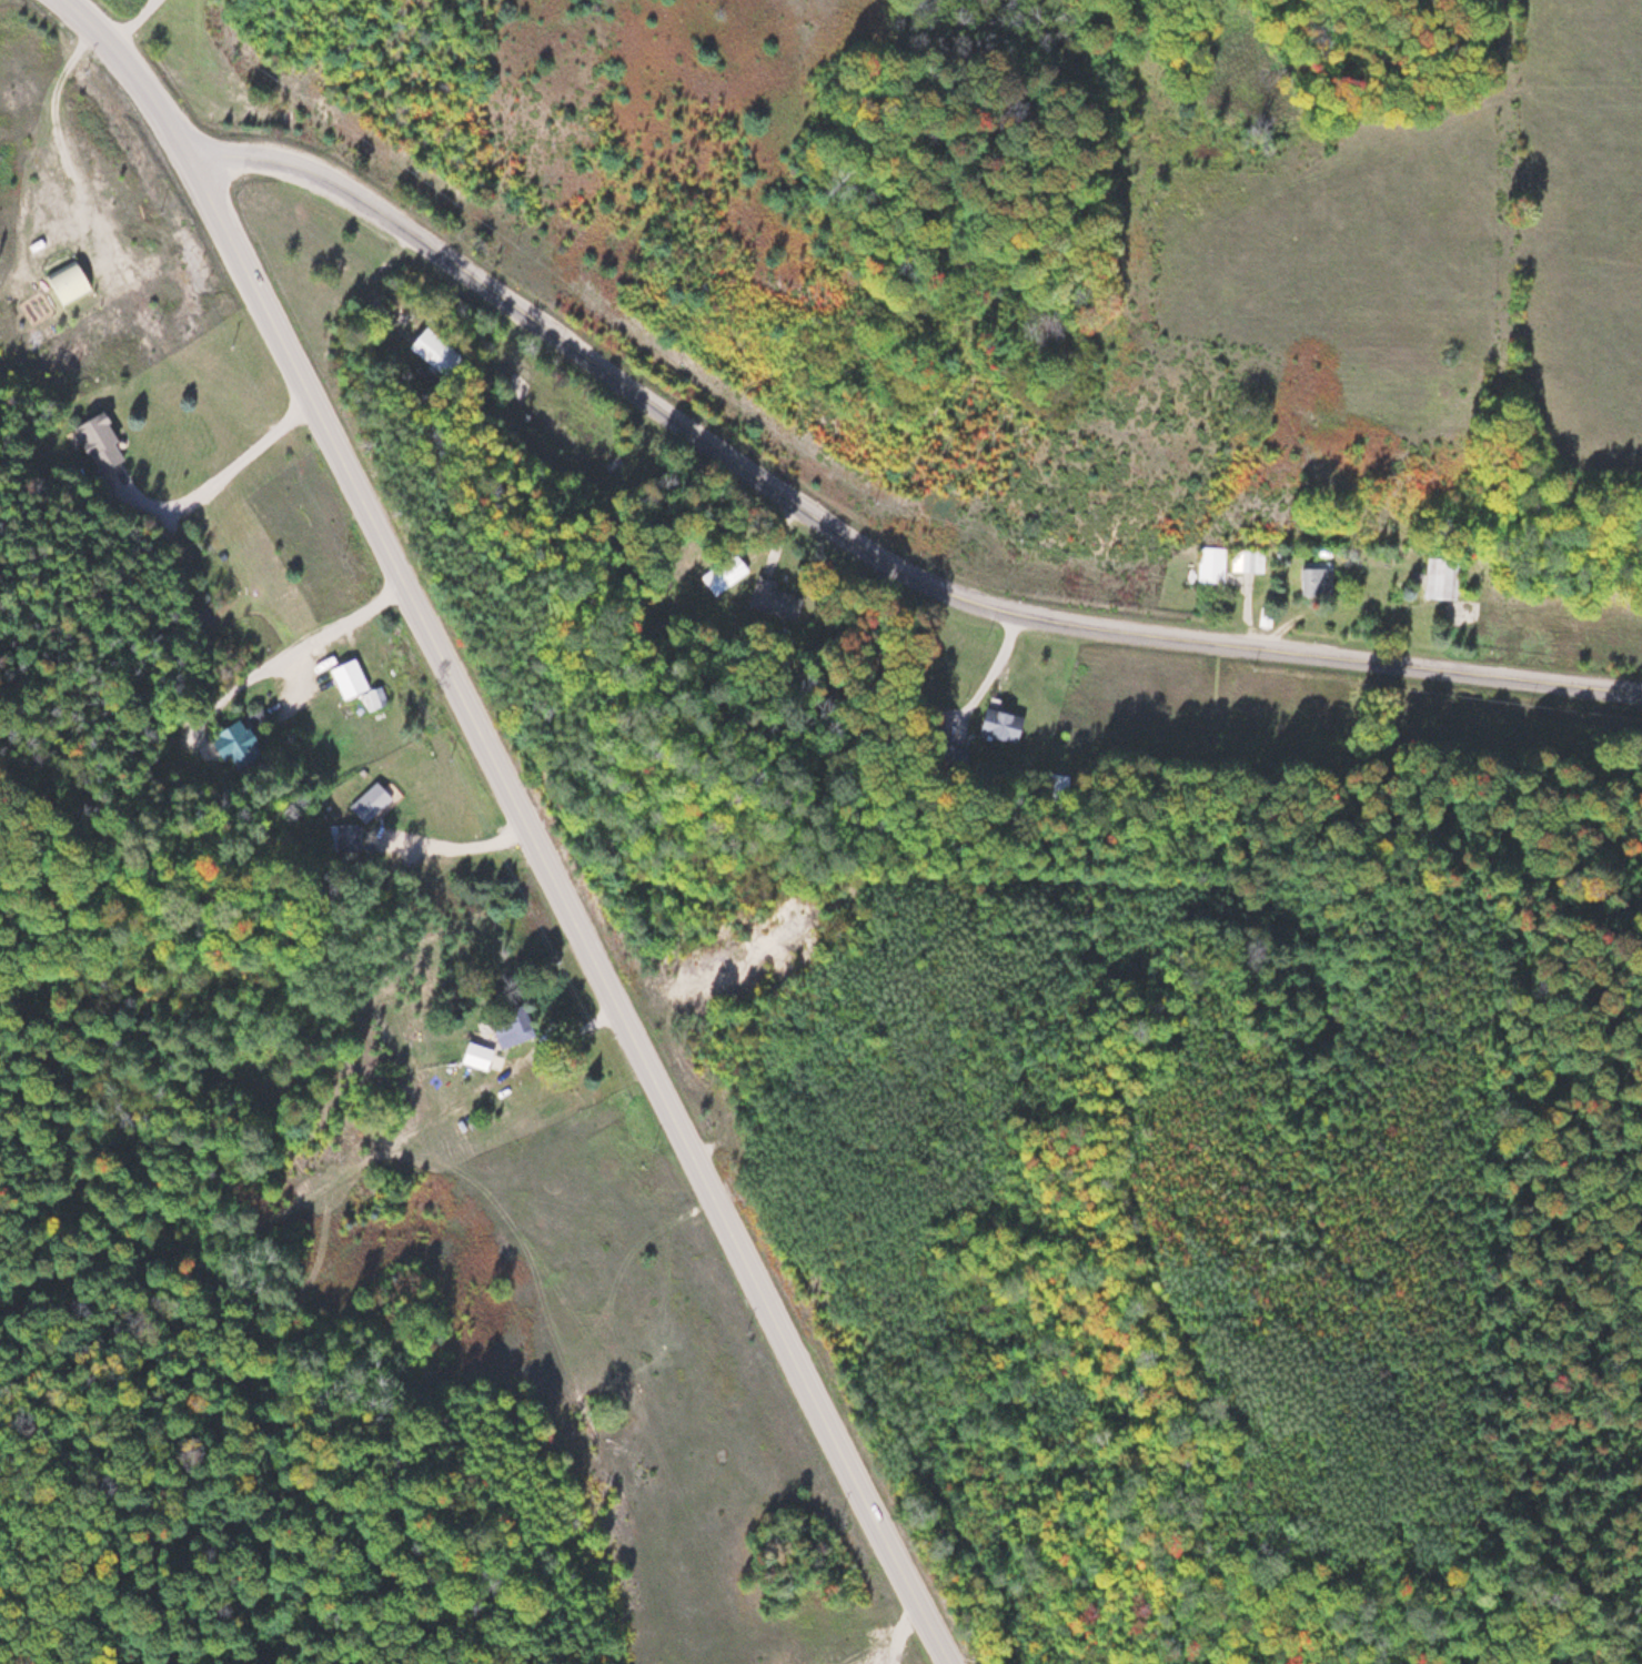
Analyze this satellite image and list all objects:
building: (67, 281)
building: (431, 346)
building: (558, 423)
building: (100, 442)
road: (869, 551)
building: (1209, 565)
building: (723, 574)
building: (1314, 578)
building: (1434, 578)
building: (772, 598)
building: (347, 677)
building: (999, 724)
building: (235, 742)
building: (951, 754)
building: (1060, 783)
building: (371, 800)
road: (526, 820)
building: (352, 838)
building: (512, 1023)

